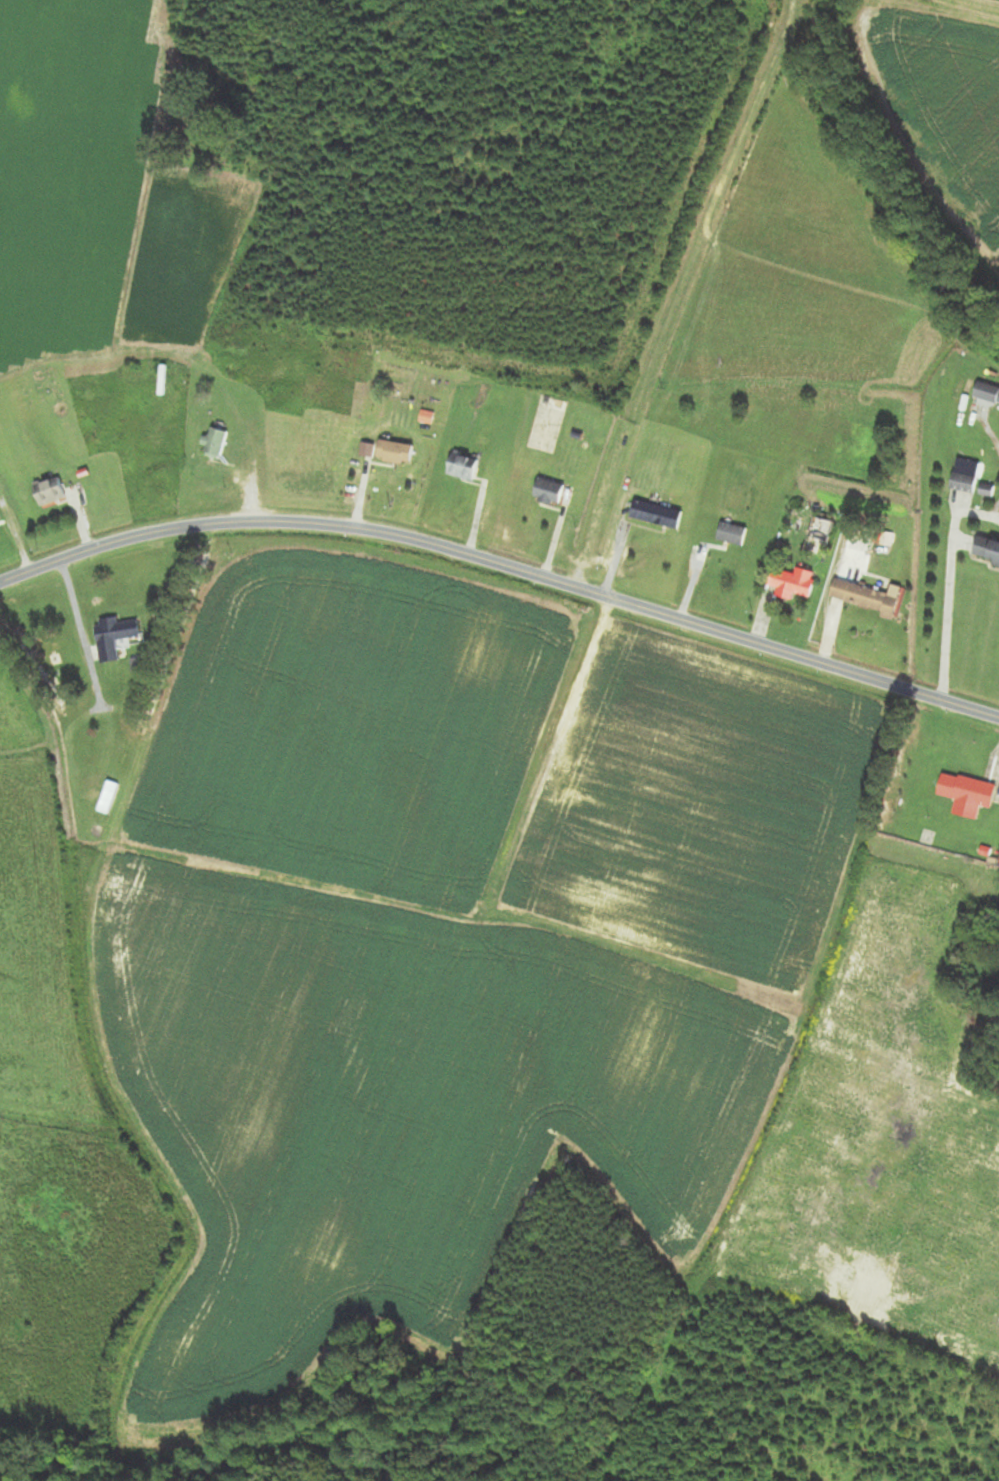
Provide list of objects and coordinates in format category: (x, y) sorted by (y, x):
building: (988, 393)
building: (217, 444)
building: (396, 453)
building: (464, 467)
building: (965, 483)
building: (51, 492)
building: (550, 492)
building: (658, 515)
building: (733, 534)
building: (987, 550)
road: (503, 564)
building: (794, 583)
building: (870, 598)
road: (945, 602)
road: (74, 633)
building: (117, 635)
road: (549, 740)
building: (969, 794)
building: (110, 797)

